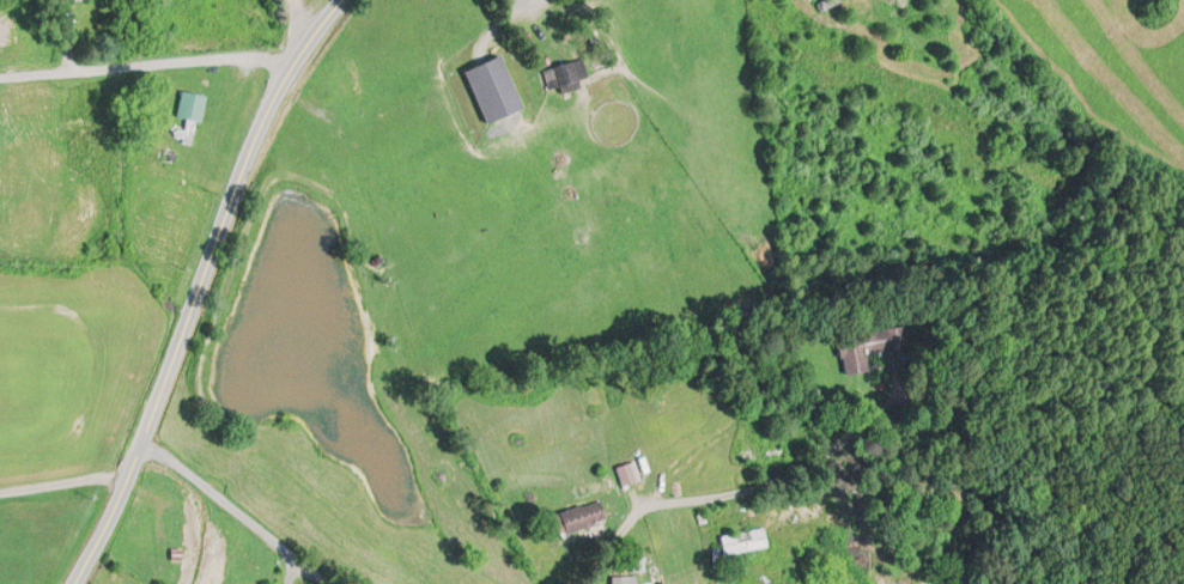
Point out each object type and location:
road: (152, 62)
building: (560, 78)
building: (354, 83)
building: (187, 116)
road: (201, 288)
building: (868, 348)
building: (593, 397)
building: (627, 474)
road: (62, 485)
road: (238, 511)
building: (578, 518)
building: (741, 543)
building: (618, 580)

